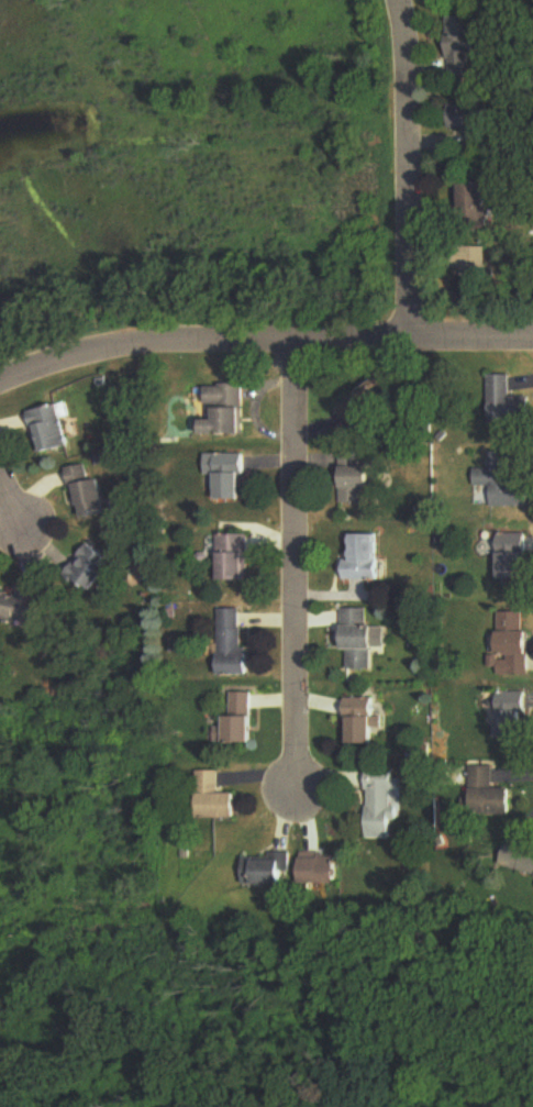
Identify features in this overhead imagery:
building: (466, 46)
building: (473, 124)
road: (412, 170)
building: (476, 197)
road: (263, 343)
building: (368, 401)
building: (507, 405)
building: (227, 410)
building: (51, 430)
building: (230, 475)
building: (355, 479)
building: (503, 483)
building: (90, 492)
road: (10, 506)
building: (514, 556)
building: (236, 557)
building: (364, 560)
road: (293, 564)
building: (91, 567)
building: (23, 606)
building: (359, 641)
building: (234, 642)
building: (517, 644)
building: (514, 716)
building: (243, 719)
building: (363, 721)
building: (492, 794)
building: (215, 799)
building: (384, 805)
building: (522, 860)
building: (321, 868)
building: (267, 870)

